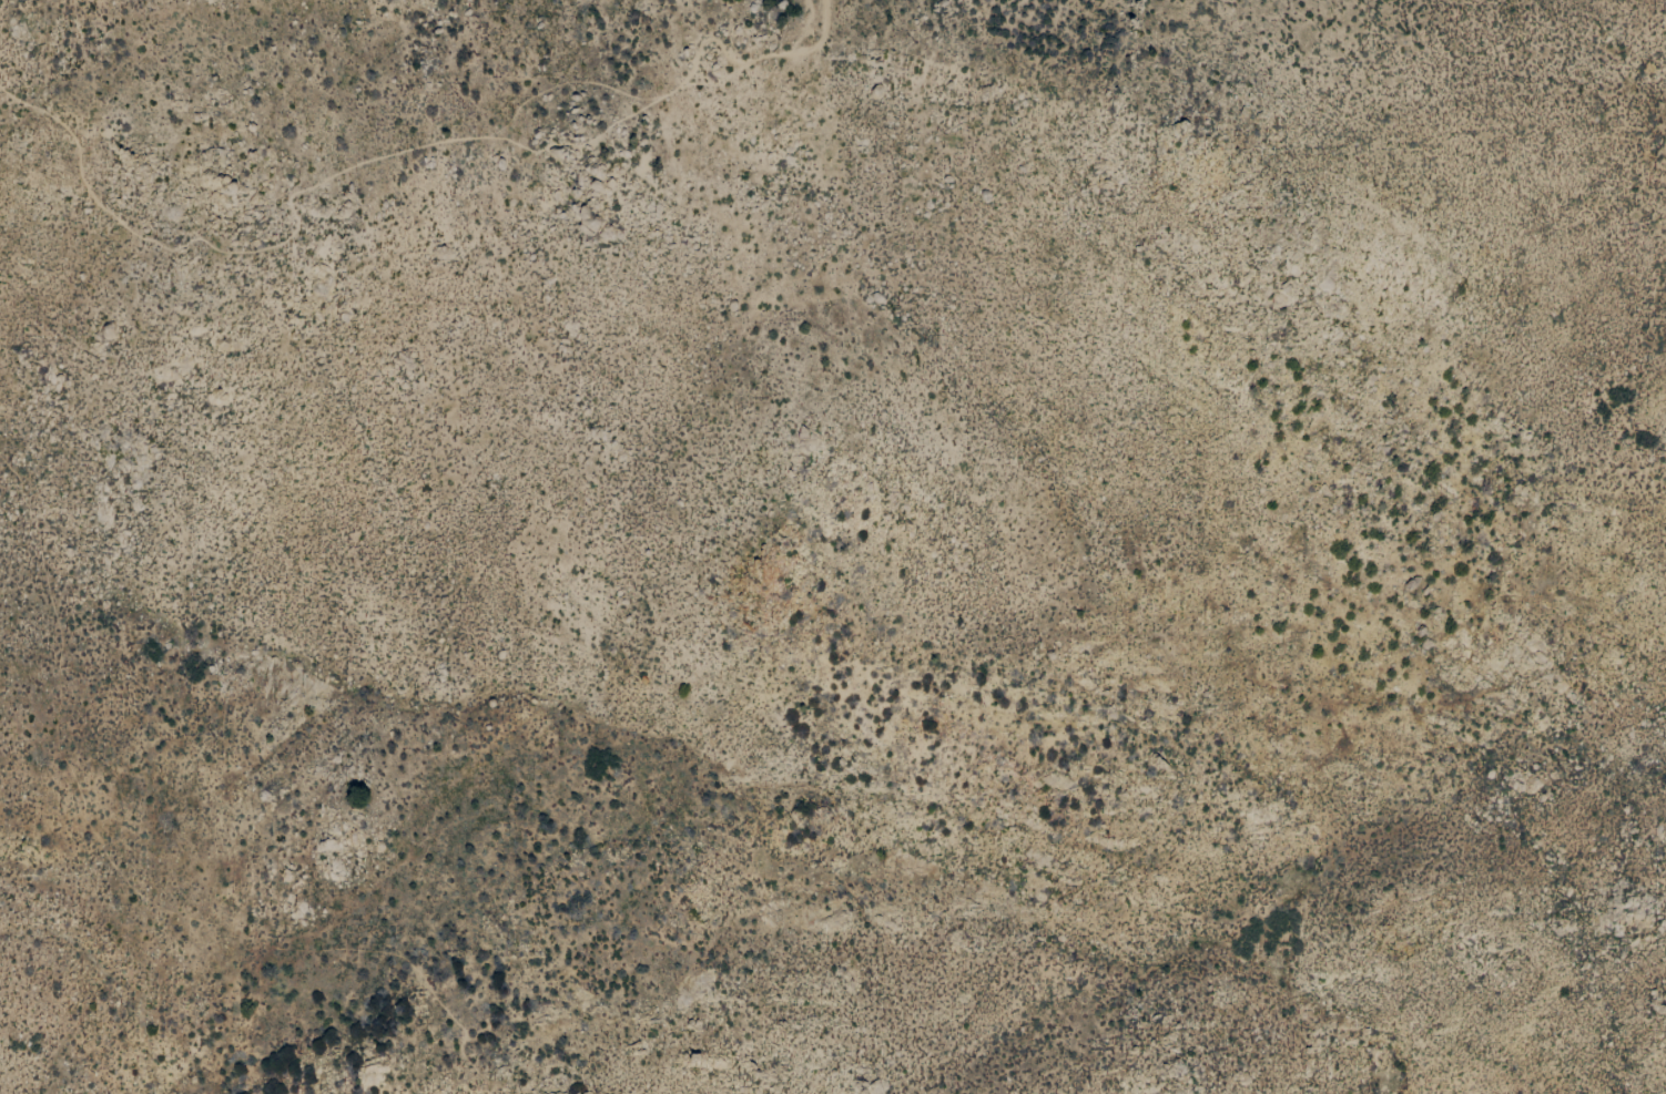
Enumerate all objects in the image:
road: (806, 29)
road: (712, 39)
road: (8, 104)
road: (379, 159)

